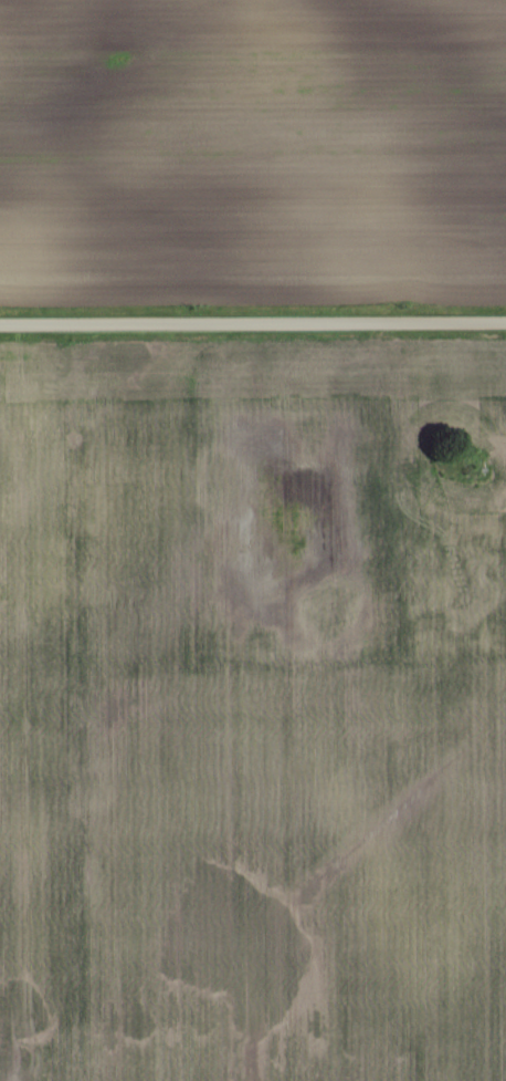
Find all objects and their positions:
road: (253, 328)

